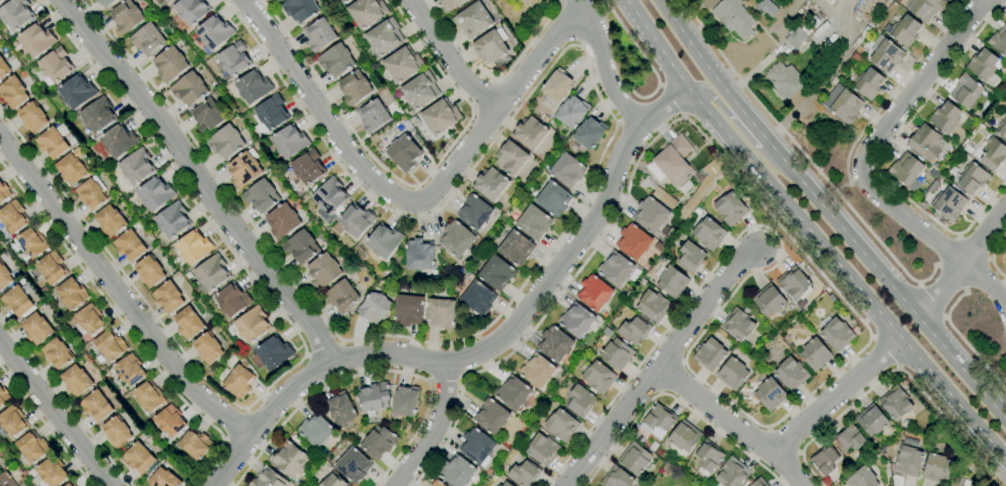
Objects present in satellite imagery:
building: (1, 0)
building: (95, 0)
building: (170, 0)
building: (277, 0)
building: (341, 1)
building: (345, 1)
building: (107, 2)
building: (449, 4)
building: (766, 8)
building: (925, 8)
building: (300, 9)
building: (191, 10)
road: (687, 10)
building: (366, 12)
building: (15, 14)
building: (126, 16)
building: (734, 18)
building: (473, 20)
building: (906, 30)
building: (214, 32)
building: (319, 35)
building: (384, 37)
building: (797, 37)
building: (147, 39)
building: (36, 40)
building: (999, 41)
building: (491, 46)
building: (887, 55)
building: (234, 59)
road: (701, 59)
road: (452, 60)
building: (335, 61)
road: (647, 61)
road: (600, 62)
building: (170, 65)
building: (403, 65)
building: (55, 66)
building: (984, 67)
building: (3, 68)
building: (502, 68)
road: (494, 80)
building: (784, 81)
road: (499, 82)
building: (869, 83)
road: (912, 86)
building: (253, 87)
building: (355, 88)
road: (895, 88)
building: (189, 89)
building: (420, 90)
building: (555, 90)
building: (966, 91)
building: (13, 92)
building: (77, 92)
road: (458, 94)
road: (486, 97)
road: (671, 100)
road: (331, 101)
road: (717, 103)
building: (842, 103)
road: (473, 111)
building: (571, 112)
building: (98, 115)
building: (270, 115)
building: (208, 116)
building: (373, 116)
building: (440, 117)
building: (945, 117)
building: (32, 118)
building: (406, 125)
building: (1001, 129)
road: (756, 130)
building: (530, 133)
building: (589, 133)
building: (289, 141)
building: (115, 142)
building: (226, 142)
building: (51, 143)
building: (926, 143)
building: (404, 152)
building: (992, 153)
road: (804, 154)
road: (883, 154)
building: (511, 158)
building: (672, 162)
building: (935, 166)
building: (136, 167)
building: (308, 167)
building: (71, 170)
building: (244, 170)
building: (567, 170)
building: (907, 171)
building: (970, 178)
road: (201, 180)
building: (491, 184)
building: (702, 188)
road: (843, 188)
building: (4, 192)
building: (154, 194)
building: (91, 195)
road: (399, 195)
building: (261, 196)
building: (329, 196)
building: (553, 199)
building: (665, 199)
building: (950, 204)
building: (730, 209)
building: (474, 212)
road: (578, 213)
building: (650, 215)
building: (13, 217)
building: (172, 220)
building: (110, 221)
building: (282, 221)
building: (354, 221)
road: (911, 221)
building: (534, 222)
building: (709, 233)
road: (812, 234)
road: (957, 236)
building: (457, 239)
building: (384, 241)
building: (633, 242)
building: (32, 243)
building: (129, 246)
building: (194, 247)
building: (301, 247)
building: (516, 248)
road: (971, 248)
road: (948, 252)
building: (420, 255)
building: (691, 256)
building: (1005, 256)
road: (992, 258)
road: (988, 259)
road: (962, 262)
road: (936, 265)
building: (51, 268)
building: (616, 268)
building: (324, 271)
building: (149, 272)
building: (212, 273)
building: (497, 273)
road: (975, 274)
building: (188, 275)
road: (952, 276)
building: (5, 277)
building: (672, 281)
road: (886, 282)
building: (794, 283)
road: (989, 289)
road: (965, 291)
road: (118, 292)
building: (594, 293)
building: (72, 294)
building: (168, 297)
building: (342, 297)
building: (478, 298)
building: (232, 300)
building: (769, 300)
road: (933, 300)
building: (17, 302)
building: (653, 305)
building: (375, 308)
building: (409, 310)
building: (441, 313)
building: (90, 320)
building: (576, 320)
building: (188, 323)
building: (738, 323)
building: (252, 324)
road: (125, 326)
building: (37, 328)
building: (634, 331)
building: (836, 333)
road: (867, 342)
road: (965, 342)
building: (555, 344)
building: (110, 346)
building: (207, 348)
road: (489, 348)
building: (56, 353)
road: (883, 353)
building: (271, 354)
building: (617, 354)
building: (709, 354)
building: (816, 354)
road: (682, 362)
road: (296, 363)
road: (656, 364)
building: (129, 370)
road: (893, 370)
building: (537, 371)
road: (370, 372)
building: (791, 373)
building: (732, 374)
road: (670, 376)
building: (599, 377)
building: (76, 380)
building: (239, 381)
building: (513, 392)
road: (660, 392)
road: (833, 393)
building: (770, 394)
building: (149, 396)
building: (4, 397)
building: (374, 398)
building: (405, 400)
road: (676, 400)
building: (580, 401)
road: (64, 402)
building: (896, 402)
building: (96, 406)
building: (341, 408)
road: (55, 412)
road: (1003, 412)
building: (491, 416)
building: (871, 420)
building: (170, 421)
building: (13, 422)
building: (657, 422)
road: (731, 424)
building: (561, 425)
road: (45, 426)
road: (430, 428)
building: (316, 430)
building: (116, 432)
building: (683, 438)
building: (849, 438)
building: (379, 442)
building: (195, 444)
building: (32, 447)
building: (477, 447)
building: (543, 449)
building: (290, 457)
building: (708, 457)
building: (139, 458)
building: (635, 458)
building: (908, 458)
building: (824, 461)
building: (353, 465)
building: (937, 469)
building: (51, 471)
building: (457, 472)
building: (732, 473)
building: (525, 474)
building: (616, 478)
building: (862, 478)
building: (6, 479)
building: (164, 479)
building: (268, 479)
building: (334, 481)
building: (759, 482)
building: (437, 483)
building: (70, 484)
building: (506, 484)
road: (961, 485)

